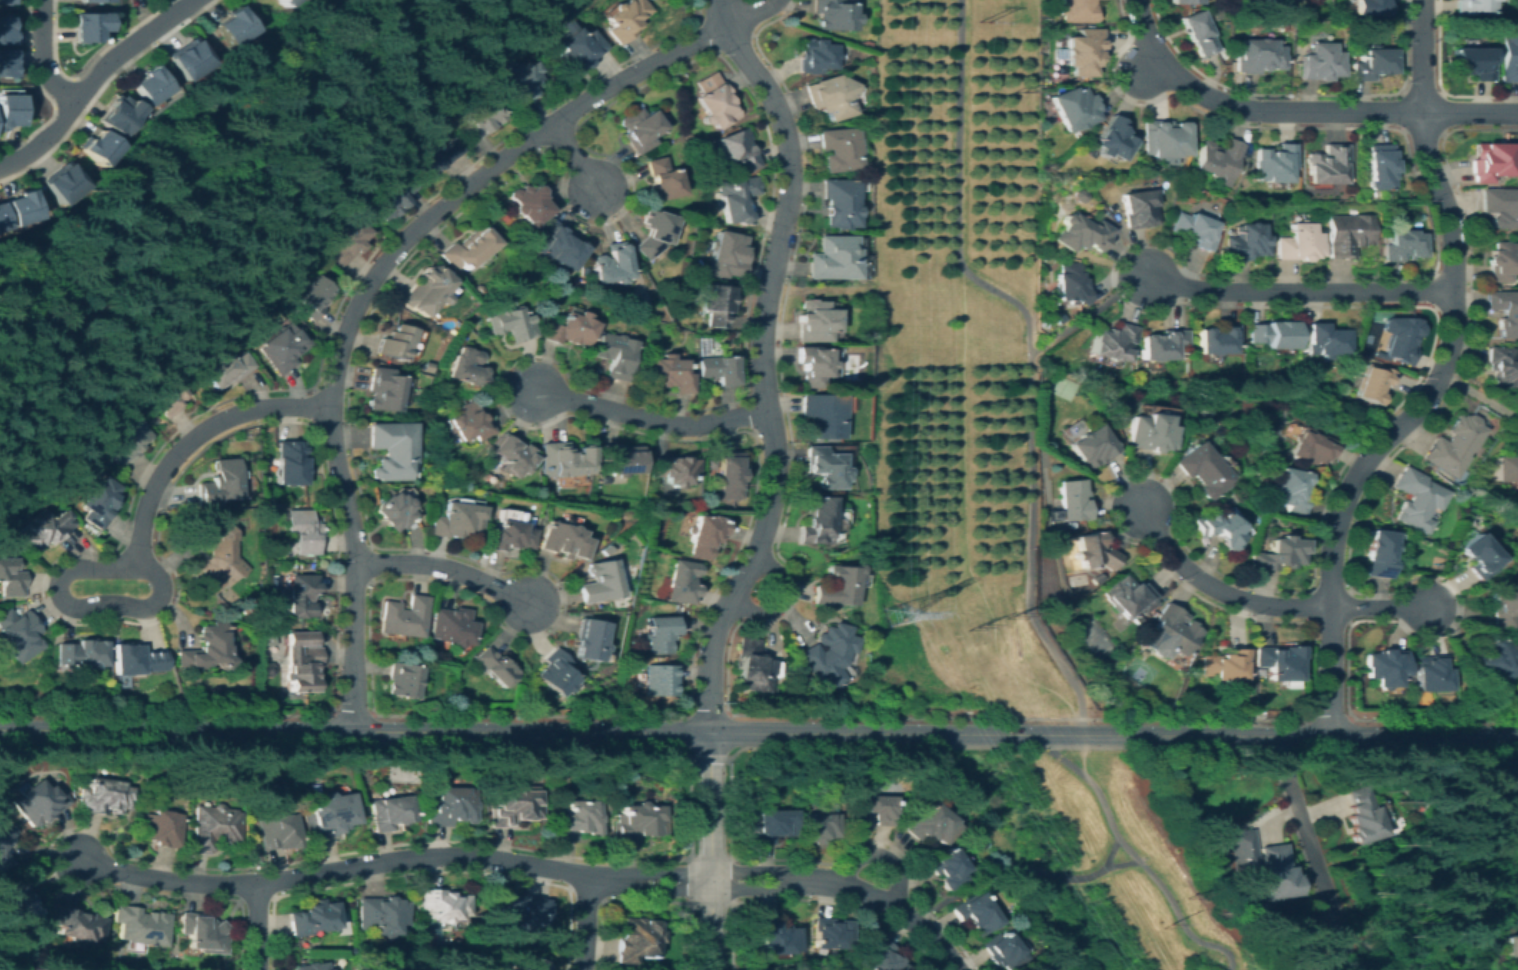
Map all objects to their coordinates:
building: (92, 0)
building: (1268, 0)
building: (1183, 1)
building: (6, 2)
building: (288, 2)
building: (1471, 6)
building: (1370, 7)
building: (1076, 10)
road: (752, 14)
building: (834, 15)
building: (625, 18)
power tower: (979, 20)
building: (87, 26)
building: (235, 26)
building: (6, 30)
building: (1197, 32)
building: (578, 49)
road: (715, 51)
building: (1080, 51)
building: (815, 55)
building: (1256, 55)
road: (43, 56)
building: (1509, 58)
building: (1319, 61)
building: (1472, 61)
building: (195, 62)
road: (1146, 62)
building: (7, 63)
road: (1145, 63)
building: (1371, 63)
road: (728, 66)
building: (1060, 69)
road: (93, 79)
building: (523, 80)
building: (1047, 82)
road: (100, 84)
building: (152, 85)
road: (1436, 85)
power tower: (1014, 90)
road: (1296, 93)
building: (832, 96)
building: (715, 100)
building: (1074, 108)
building: (9, 110)
road: (1297, 111)
building: (125, 112)
building: (481, 119)
building: (639, 129)
road: (1439, 133)
road: (559, 136)
building: (871, 136)
building: (1109, 138)
building: (1162, 140)
building: (840, 149)
building: (103, 150)
building: (738, 150)
building: (432, 159)
building: (1216, 159)
road: (576, 160)
building: (1490, 161)
building: (1273, 162)
building: (1326, 164)
building: (1378, 165)
building: (662, 180)
building: (74, 183)
building: (1081, 196)
building: (390, 198)
building: (736, 198)
building: (841, 203)
building: (528, 204)
building: (1501, 207)
building: (24, 208)
building: (1139, 208)
building: (1393, 208)
building: (2, 221)
building: (509, 225)
building: (1194, 229)
building: (1082, 232)
building: (653, 233)
building: (1347, 233)
building: (345, 240)
building: (1246, 242)
building: (1299, 242)
building: (1402, 245)
building: (558, 247)
building: (467, 249)
building: (726, 255)
building: (833, 258)
building: (1502, 261)
building: (609, 264)
building: (1071, 284)
road: (364, 287)
road: (1431, 289)
building: (426, 291)
road: (1298, 291)
building: (313, 296)
building: (714, 303)
road: (1087, 312)
building: (1505, 312)
building: (816, 321)
building: (510, 322)
building: (569, 329)
building: (1272, 334)
building: (1217, 339)
building: (1399, 339)
building: (1324, 340)
building: (396, 342)
building: (1112, 342)
building: (1162, 344)
building: (283, 347)
building: (615, 355)
road: (1029, 356)
road: (761, 361)
building: (813, 366)
building: (427, 367)
building: (468, 367)
building: (1502, 367)
building: (226, 369)
building: (718, 369)
building: (668, 374)
road: (1437, 382)
building: (1372, 383)
park: (1063, 388)
building: (384, 390)
building: (168, 396)
road: (312, 400)
road: (746, 413)
building: (823, 414)
road: (649, 418)
road: (310, 422)
building: (469, 422)
building: (1150, 432)
building: (126, 440)
building: (1455, 444)
building: (1090, 446)
building: (1312, 446)
building: (392, 449)
building: (514, 455)
building: (564, 459)
building: (622, 459)
building: (289, 462)
building: (826, 466)
building: (1506, 467)
building: (674, 469)
building: (1202, 469)
road: (1148, 471)
building: (728, 476)
building: (218, 483)
building: (1289, 490)
building: (1417, 498)
building: (1072, 499)
building: (96, 501)
building: (685, 504)
building: (393, 511)
road: (964, 516)
building: (457, 520)
building: (820, 521)
building: (1218, 529)
building: (45, 530)
building: (302, 531)
building: (510, 531)
building: (704, 535)
building: (563, 540)
road: (367, 545)
road: (136, 547)
building: (607, 549)
building: (1093, 552)
building: (1276, 553)
building: (1377, 553)
building: (1478, 555)
building: (214, 556)
road: (366, 562)
road: (443, 568)
building: (9, 578)
road: (368, 579)
building: (1096, 579)
building: (600, 582)
building: (682, 582)
building: (838, 586)
road: (1217, 591)
building: (299, 595)
road: (780, 598)
building: (1128, 598)
road: (1308, 607)
building: (1500, 607)
building: (240, 608)
road: (1380, 608)
power tower: (889, 613)
power tower: (1010, 614)
building: (404, 617)
road: (76, 623)
power tower: (974, 624)
building: (452, 626)
building: (1170, 629)
building: (661, 633)
building: (17, 634)
park: (1095, 637)
building: (589, 639)
building: (204, 649)
building: (79, 653)
building: (828, 655)
building: (1489, 657)
building: (133, 659)
building: (301, 661)
building: (1278, 661)
building: (1224, 664)
building: (750, 665)
building: (1385, 666)
building: (495, 667)
building: (267, 669)
park: (1139, 671)
building: (555, 672)
building: (1430, 673)
building: (402, 680)
building: (662, 680)
building: (1104, 694)
road: (1012, 698)
road: (351, 710)
road: (1327, 712)
road: (706, 713)
road: (523, 730)
road: (1063, 734)
road: (1299, 736)
road: (1276, 744)
road: (1081, 754)
building: (103, 796)
building: (38, 803)
building: (287, 805)
building: (450, 806)
building: (513, 807)
building: (874, 810)
building: (389, 812)
building: (328, 813)
building: (1362, 815)
building: (576, 819)
building: (637, 823)
building: (928, 823)
building: (774, 824)
building: (159, 826)
building: (211, 827)
building: (819, 827)
building: (278, 831)
building: (5, 843)
road: (708, 850)
road: (1095, 852)
road: (1134, 856)
road: (880, 858)
park: (1092, 859)
road: (1316, 861)
road: (1121, 863)
building: (1262, 864)
road: (1018, 866)
building: (945, 867)
road: (354, 868)
road: (742, 871)
road: (669, 872)
road: (669, 888)
road: (742, 888)
power tower: (1187, 895)
road: (877, 900)
building: (17, 902)
building: (443, 904)
building: (517, 911)
building: (381, 914)
building: (974, 914)
building: (313, 917)
road: (586, 922)
building: (75, 923)
power tower: (1164, 923)
building: (141, 925)
road: (257, 927)
building: (202, 932)
building: (830, 932)
building: (774, 936)
building: (637, 939)
building: (1510, 948)
building: (1001, 950)
building: (882, 958)
building: (534, 964)
building: (311, 966)
building: (331, 969)
building: (1036, 969)

